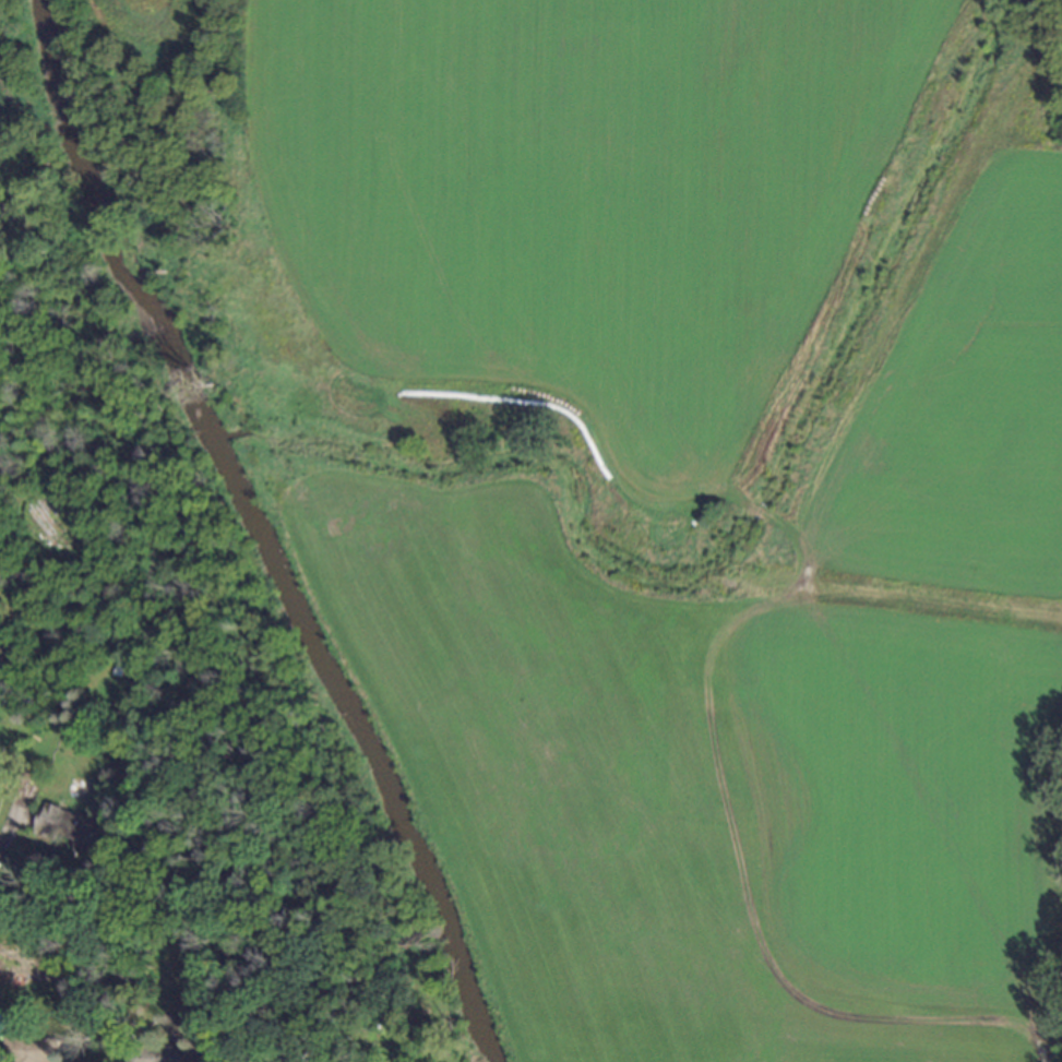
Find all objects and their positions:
crop: (148, 23)
crop: (2, 105)
crop: (682, 487)
road: (5, 827)
building: (73, 828)
building: (34, 1050)
building: (163, 1054)

